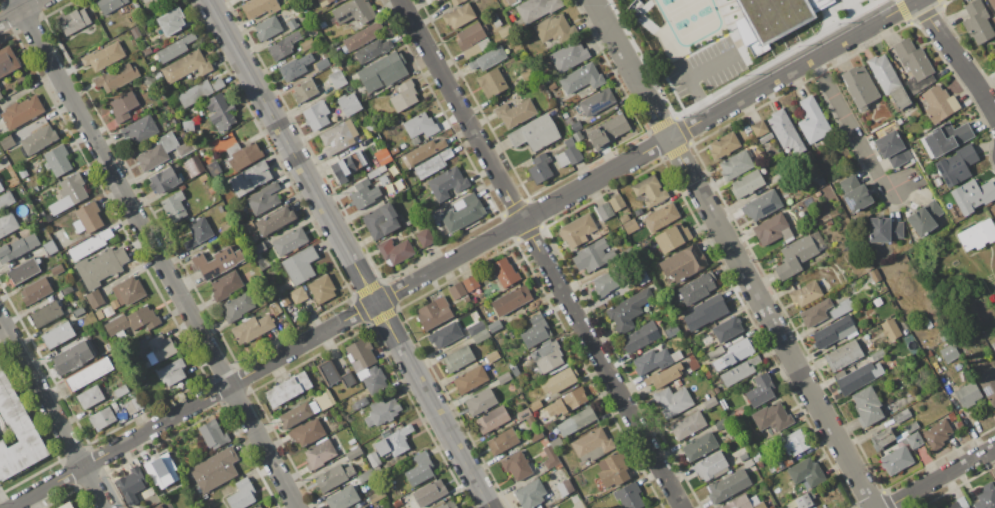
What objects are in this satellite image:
building: (323, 2)
building: (505, 2)
building: (108, 4)
building: (992, 4)
building: (258, 7)
building: (535, 8)
road: (20, 11)
building: (352, 11)
building: (458, 14)
building: (777, 16)
park: (689, 20)
building: (72, 21)
building: (170, 21)
building: (976, 22)
building: (290, 23)
building: (266, 28)
road: (864, 29)
building: (504, 31)
building: (552, 31)
building: (361, 36)
building: (471, 39)
building: (305, 43)
building: (281, 45)
building: (173, 48)
building: (371, 50)
building: (146, 51)
road: (956, 54)
building: (102, 56)
building: (567, 56)
building: (994, 57)
building: (487, 58)
building: (7, 61)
building: (321, 64)
building: (913, 64)
building: (184, 66)
building: (293, 67)
parking lot: (706, 68)
building: (380, 71)
building: (526, 74)
road: (691, 75)
building: (115, 78)
building: (579, 78)
building: (336, 79)
building: (887, 80)
building: (491, 83)
building: (858, 87)
building: (303, 91)
building: (198, 92)
building: (403, 96)
building: (0, 97)
building: (596, 101)
building: (347, 103)
building: (937, 103)
building: (122, 107)
building: (20, 111)
building: (218, 111)
building: (513, 112)
building: (315, 115)
building: (810, 120)
building: (419, 125)
building: (186, 126)
building: (574, 126)
road: (851, 126)
building: (758, 128)
building: (138, 131)
building: (606, 131)
building: (784, 131)
building: (534, 132)
building: (576, 136)
building: (337, 137)
building: (944, 139)
building: (36, 140)
building: (6, 141)
building: (722, 145)
building: (185, 148)
building: (891, 149)
building: (423, 151)
building: (156, 152)
building: (571, 152)
building: (381, 156)
building: (242, 157)
building: (56, 160)
building: (431, 163)
building: (347, 165)
building: (735, 165)
building: (955, 165)
building: (539, 167)
building: (212, 168)
building: (249, 177)
building: (163, 180)
building: (382, 180)
building: (446, 183)
building: (745, 184)
building: (0, 188)
building: (649, 191)
building: (68, 193)
building: (362, 194)
building: (853, 194)
building: (971, 196)
building: (262, 198)
building: (5, 200)
building: (615, 203)
building: (761, 205)
building: (172, 206)
building: (603, 211)
building: (461, 212)
building: (660, 217)
building: (86, 218)
building: (622, 218)
building: (923, 218)
building: (274, 220)
building: (380, 221)
building: (7, 223)
building: (629, 226)
building: (226, 228)
building: (576, 230)
building: (772, 230)
building: (882, 230)
building: (197, 232)
building: (976, 235)
building: (424, 237)
building: (671, 237)
building: (289, 241)
building: (89, 244)
building: (17, 247)
building: (48, 247)
building: (394, 251)
road: (157, 253)
road: (541, 253)
road: (733, 253)
road: (349, 254)
building: (592, 256)
building: (794, 256)
building: (215, 262)
building: (682, 263)
building: (298, 265)
building: (100, 266)
building: (55, 270)
building: (22, 271)
building: (503, 272)
building: (641, 278)
road: (411, 282)
building: (470, 283)
building: (604, 283)
building: (224, 285)
building: (320, 288)
building: (696, 288)
building: (34, 290)
building: (64, 290)
building: (126, 291)
building: (456, 291)
building: (805, 293)
building: (296, 295)
building: (93, 299)
building: (510, 300)
building: (236, 306)
building: (627, 310)
building: (76, 312)
building: (704, 312)
building: (44, 313)
building: (433, 313)
building: (814, 313)
building: (131, 321)
building: (493, 326)
building: (250, 328)
building: (474, 328)
building: (726, 328)
building: (889, 329)
building: (670, 330)
building: (534, 331)
building: (832, 331)
building: (443, 334)
building: (56, 335)
building: (479, 336)
building: (639, 337)
building: (993, 345)
building: (159, 348)
building: (714, 352)
building: (359, 354)
building: (732, 354)
building: (948, 354)
building: (842, 355)
building: (876, 355)
building: (71, 357)
building: (546, 357)
building: (457, 359)
building: (651, 361)
building: (514, 371)
building: (738, 371)
building: (170, 372)
building: (332, 373)
building: (87, 374)
building: (662, 376)
building: (502, 377)
building: (857, 377)
building: (469, 379)
building: (372, 380)
building: (557, 382)
building: (286, 389)
building: (988, 389)
building: (759, 390)
building: (119, 391)
building: (967, 396)
building: (88, 397)
building: (671, 401)
building: (479, 402)
building: (566, 402)
building: (708, 402)
building: (135, 403)
building: (357, 403)
building: (534, 405)
building: (866, 406)
building: (128, 407)
building: (306, 409)
road: (52, 412)
building: (380, 412)
building: (521, 414)
building: (900, 416)
building: (771, 417)
building: (101, 418)
building: (491, 419)
building: (575, 421)
building: (546, 424)
building: (686, 425)
building: (721, 425)
building: (532, 429)
building: (16, 431)
building: (306, 432)
building: (212, 434)
building: (936, 434)
building: (881, 438)
building: (913, 440)
building: (392, 442)
building: (501, 442)
building: (555, 442)
building: (787, 442)
building: (590, 445)
building: (698, 446)
building: (352, 453)
building: (318, 454)
building: (549, 457)
building: (372, 459)
building: (895, 460)
building: (516, 465)
building: (709, 467)
building: (213, 469)
building: (418, 469)
building: (611, 470)
building: (160, 471)
building: (805, 472)
building: (364, 475)
building: (332, 476)
road: (940, 477)
building: (130, 484)
building: (727, 486)
building: (564, 487)
building: (429, 493)
building: (240, 494)
building: (529, 494)
building: (376, 496)
building: (628, 496)
building: (984, 496)
building: (342, 498)
building: (754, 500)
building: (802, 501)
building: (739, 503)
building: (449, 504)
building: (958, 504)
road: (1, 505)
building: (66, 505)
building: (761, 505)
building: (159, 506)
building: (259, 506)
building: (362, 507)
building: (375, 507)

